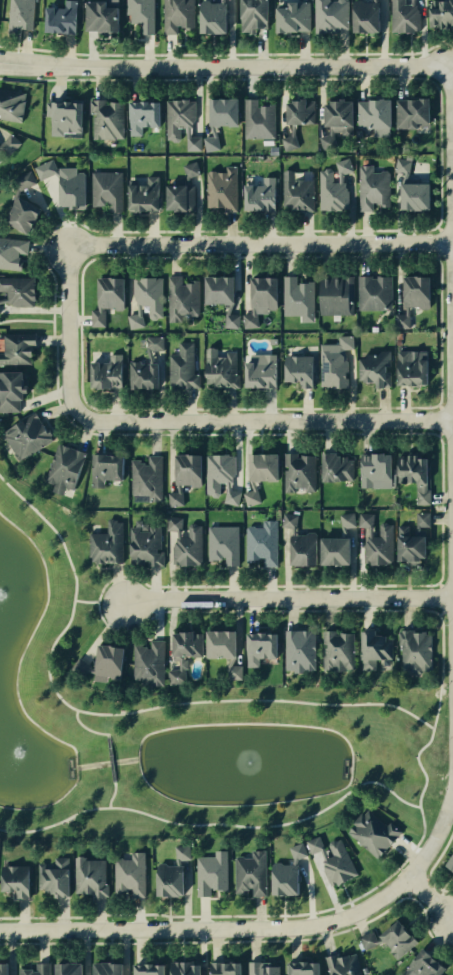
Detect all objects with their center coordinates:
building: (373, 0)
building: (221, 1)
building: (412, 2)
building: (19, 13)
building: (140, 13)
building: (440, 13)
building: (177, 14)
building: (252, 14)
building: (329, 15)
building: (211, 16)
building: (292, 16)
building: (364, 16)
building: (403, 16)
building: (60, 17)
building: (99, 17)
road: (227, 53)
street lamp: (161, 59)
street lamp: (389, 59)
road: (222, 68)
street lamp: (276, 75)
street lamp: (45, 76)
building: (11, 104)
building: (222, 111)
building: (299, 111)
building: (410, 111)
building: (372, 113)
building: (63, 116)
building: (141, 116)
building: (177, 116)
building: (338, 116)
building: (105, 118)
building: (257, 119)
building: (289, 139)
building: (326, 139)
building: (210, 140)
building: (191, 141)
building: (8, 144)
building: (341, 167)
building: (401, 167)
building: (45, 168)
building: (189, 169)
building: (21, 182)
building: (70, 187)
building: (372, 187)
building: (220, 188)
building: (106, 189)
building: (295, 191)
building: (330, 191)
building: (143, 194)
building: (180, 194)
building: (259, 194)
building: (414, 195)
building: (21, 214)
street lamp: (444, 221)
road: (438, 228)
street lamp: (319, 235)
road: (439, 240)
road: (261, 243)
building: (11, 251)
street lamp: (198, 254)
road: (437, 254)
building: (217, 289)
road: (452, 289)
building: (17, 290)
building: (415, 291)
building: (109, 292)
building: (373, 292)
building: (148, 294)
building: (262, 294)
building: (335, 294)
building: (180, 297)
building: (297, 298)
building: (3, 299)
street lamp: (59, 316)
building: (97, 317)
building: (135, 318)
building: (230, 318)
building: (401, 318)
road: (26, 319)
building: (249, 320)
road: (66, 333)
building: (153, 345)
building: (16, 347)
building: (334, 362)
building: (181, 366)
building: (410, 367)
building: (374, 368)
building: (219, 369)
building: (297, 369)
building: (259, 370)
building: (105, 372)
building: (142, 374)
building: (10, 389)
road: (439, 406)
road: (100, 408)
street lamp: (396, 411)
road: (441, 419)
road: (262, 422)
street lamp: (280, 431)
road: (438, 433)
building: (26, 435)
road: (440, 442)
street lamp: (446, 444)
building: (262, 466)
building: (335, 466)
building: (63, 467)
building: (105, 468)
building: (186, 468)
building: (374, 470)
building: (217, 471)
building: (298, 471)
building: (413, 474)
building: (145, 477)
building: (230, 494)
building: (250, 494)
building: (175, 496)
building: (420, 520)
building: (288, 521)
building: (346, 521)
building: (365, 521)
building: (174, 524)
building: (261, 542)
building: (105, 543)
building: (222, 543)
building: (144, 544)
building: (378, 546)
building: (187, 547)
building: (408, 547)
building: (302, 548)
building: (334, 550)
road: (439, 583)
road: (440, 597)
road: (290, 599)
road: (83, 600)
street lamp: (205, 607)
road: (438, 611)
street lamp: (447, 625)
building: (219, 644)
building: (259, 647)
building: (372, 648)
building: (298, 650)
building: (336, 650)
building: (413, 650)
building: (183, 653)
building: (106, 662)
building: (147, 662)
building: (80, 666)
building: (232, 670)
street lamp: (448, 686)
road: (117, 713)
park: (180, 722)
road: (83, 727)
road: (108, 757)
fountain: (230, 765)
fountain: (12, 766)
road: (110, 794)
road: (442, 818)
road: (214, 823)
building: (371, 832)
building: (314, 845)
building: (296, 851)
road: (407, 851)
building: (180, 852)
building: (450, 861)
building: (337, 863)
road: (432, 866)
building: (211, 872)
building: (249, 872)
building: (129, 873)
building: (89, 876)
building: (53, 877)
building: (283, 878)
road: (427, 878)
building: (14, 879)
building: (168, 879)
road: (416, 885)
road: (409, 894)
street lamp: (397, 897)
road: (431, 897)
road: (231, 927)
street lamp: (318, 934)
street lamp: (207, 938)
building: (396, 938)
building: (368, 939)
street lamp: (89, 940)
road: (245, 941)
building: (341, 964)
building: (421, 964)
building: (105, 968)
building: (182, 968)
building: (223, 968)
building: (261, 968)
building: (301, 968)
building: (3, 969)
building: (36, 969)
building: (67, 969)
building: (147, 969)

